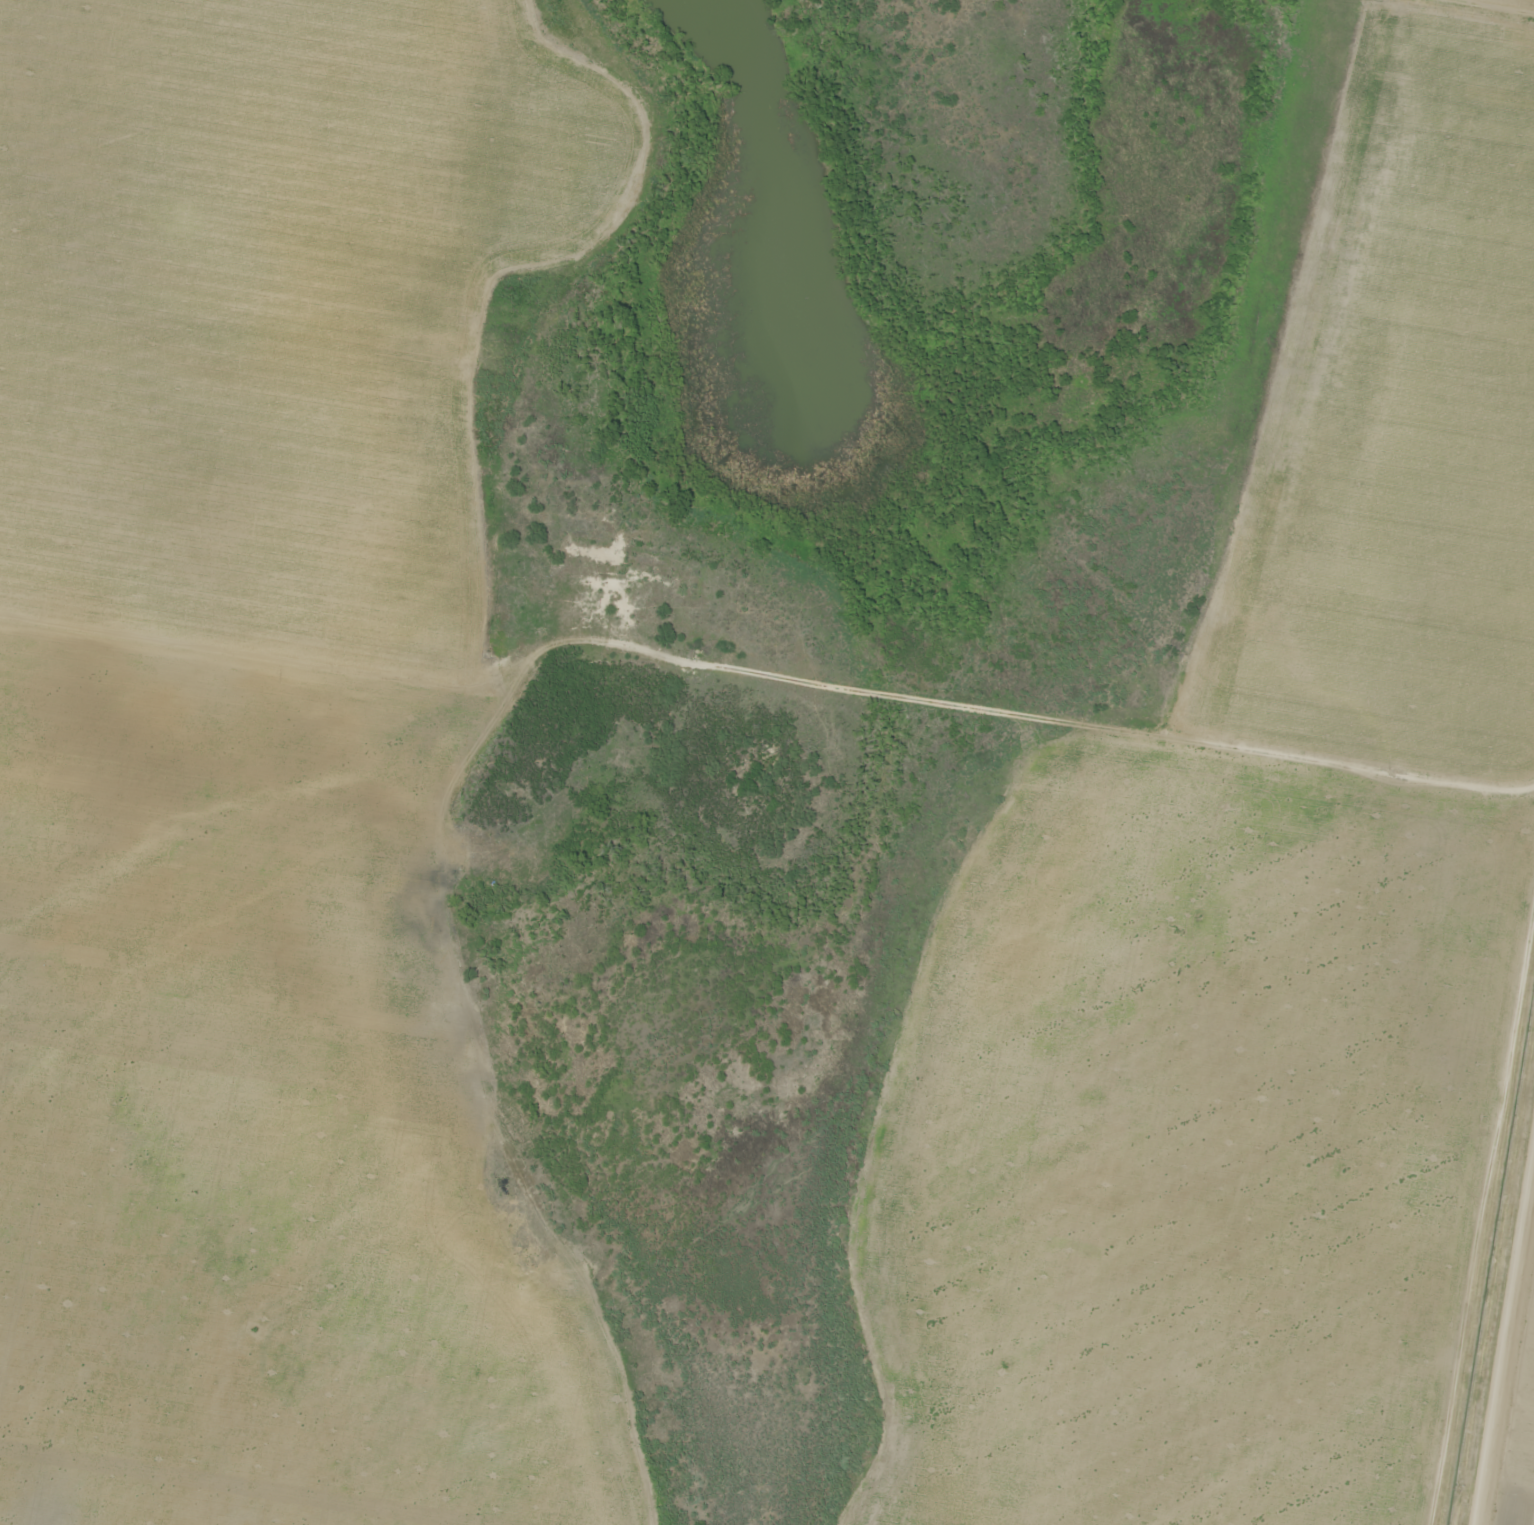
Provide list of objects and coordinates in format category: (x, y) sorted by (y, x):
road: (1388, 22)
road: (1506, 1343)
road: (1509, 1498)

